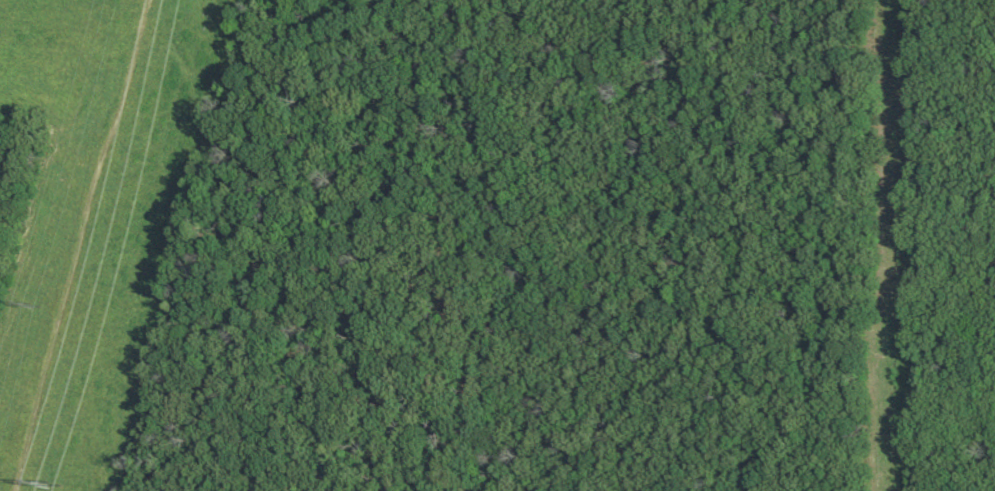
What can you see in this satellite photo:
power tower: (47, 482)

